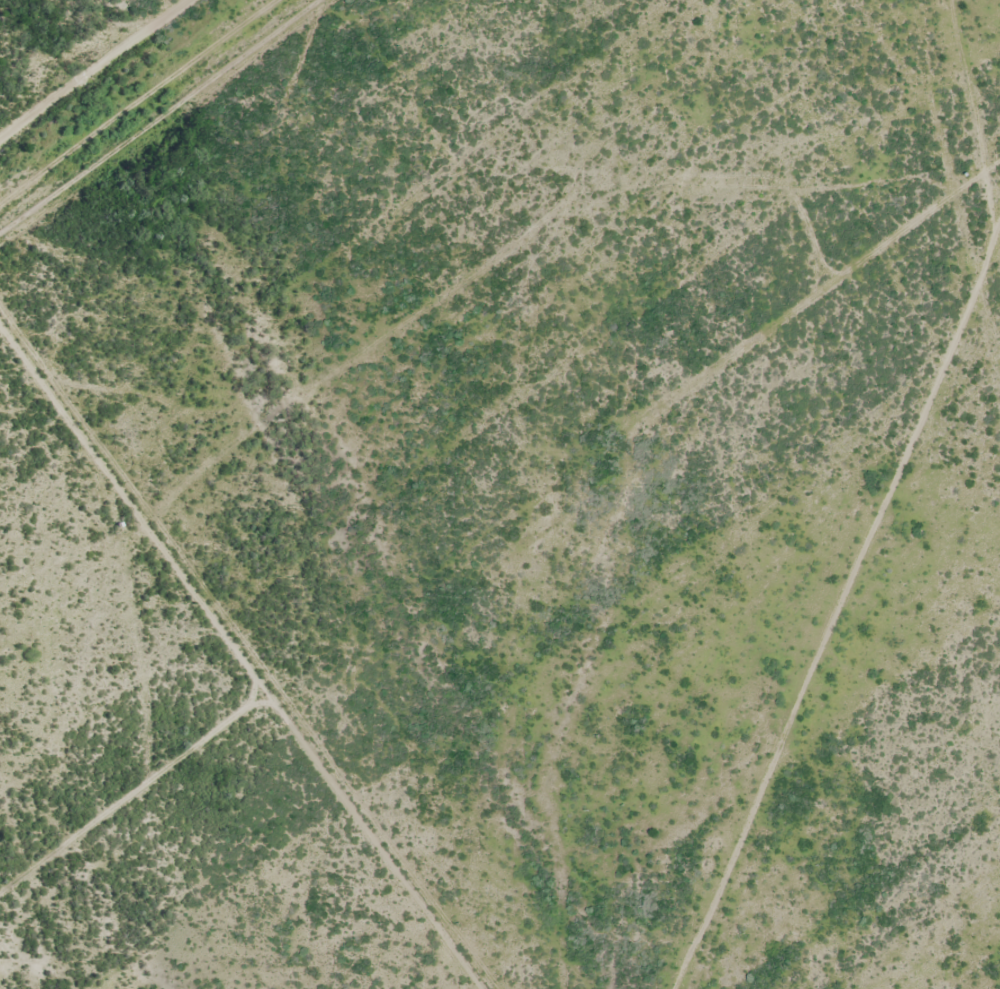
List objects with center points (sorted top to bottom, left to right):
road: (99, 71)
road: (168, 122)

